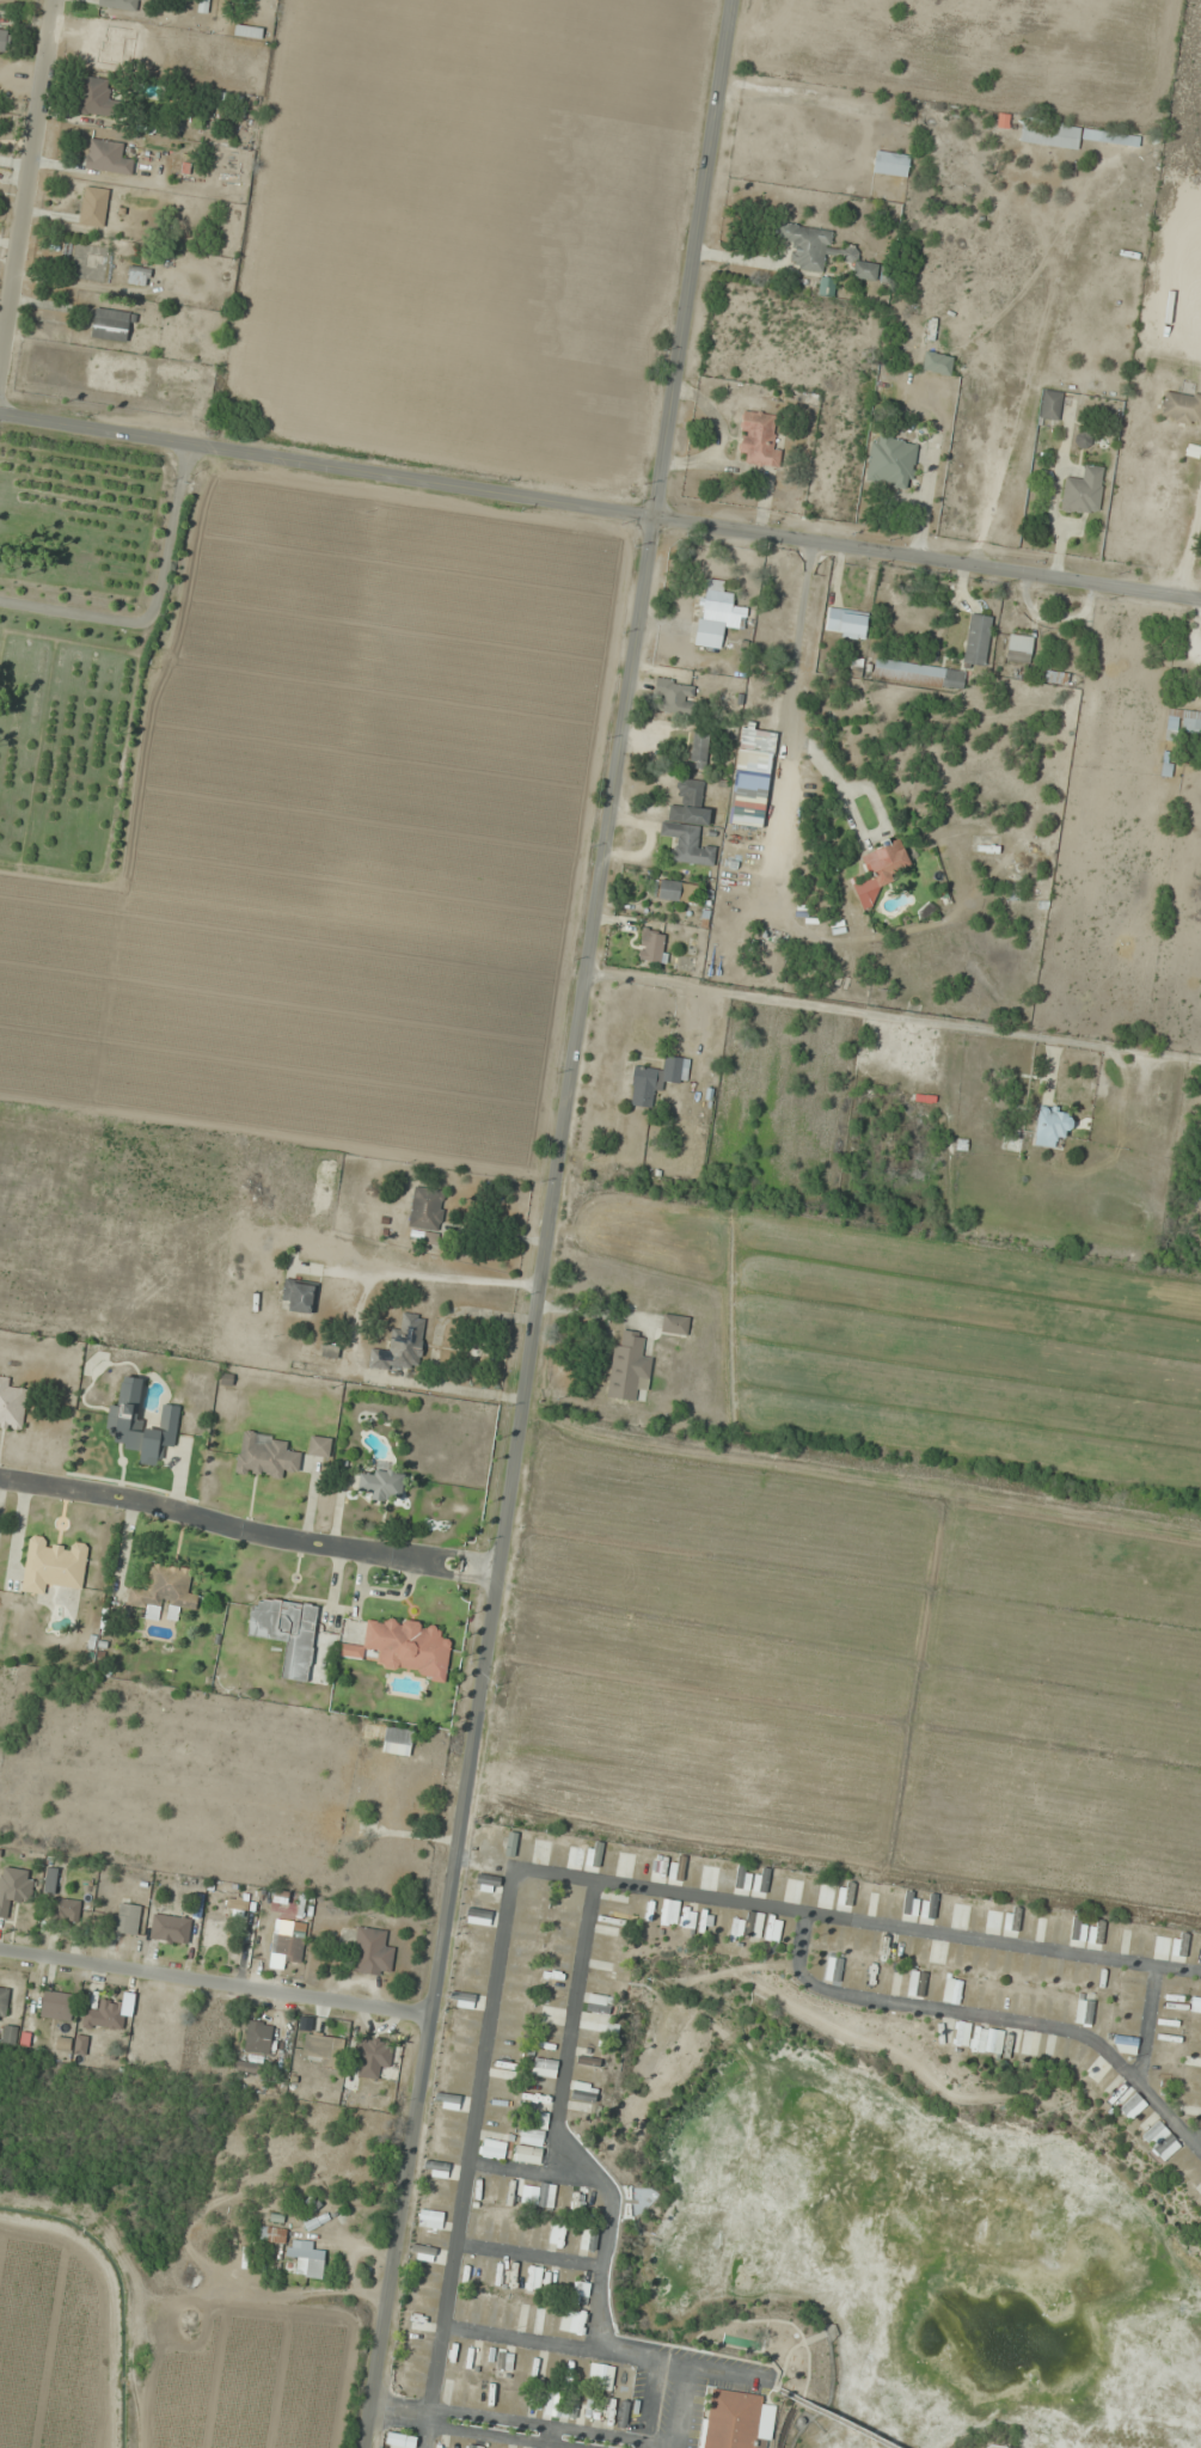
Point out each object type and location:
building: (120, 4)
building: (4, 37)
building: (96, 98)
building: (1072, 136)
building: (108, 157)
building: (890, 164)
road: (26, 184)
building: (93, 206)
building: (807, 247)
building: (860, 265)
building: (137, 276)
building: (110, 325)
building: (937, 363)
building: (1049, 405)
building: (1181, 408)
building: (759, 440)
building: (890, 461)
building: (1083, 491)
road: (600, 510)
building: (717, 617)
building: (846, 623)
building: (976, 639)
building: (1018, 649)
building: (918, 674)
building: (1055, 678)
building: (674, 696)
building: (1190, 723)
building: (698, 751)
building: (750, 777)
building: (688, 825)
building: (886, 862)
building: (675, 891)
building: (651, 945)
road: (893, 1022)
building: (655, 1079)
building: (1049, 1124)
building: (427, 1212)
road: (547, 1223)
building: (299, 1296)
building: (674, 1323)
building: (402, 1346)
building: (627, 1366)
building: (11, 1404)
building: (140, 1424)
building: (319, 1445)
building: (264, 1455)
building: (380, 1483)
road: (246, 1530)
building: (54, 1563)
building: (165, 1589)
building: (287, 1632)
building: (408, 1646)
building: (397, 1740)
building: (510, 1843)
building: (576, 1853)
building: (595, 1854)
building: (742, 1878)
building: (761, 1880)
building: (488, 1881)
building: (797, 1886)
building: (14, 1887)
building: (878, 1898)
building: (478, 1901)
building: (907, 1903)
building: (67, 1909)
building: (669, 1911)
building: (961, 1915)
building: (482, 1917)
building: (125, 1918)
building: (753, 1924)
road: (854, 1924)
building: (1076, 1928)
building: (736, 1929)
building: (773, 1929)
building: (1097, 1933)
building: (287, 1947)
building: (372, 1952)
building: (937, 1954)
building: (833, 1969)
road: (215, 1982)
building: (952, 1990)
building: (4, 2001)
building: (56, 2005)
building: (1195, 2005)
building: (106, 2015)
road: (994, 2020)
building: (962, 2033)
road: (1147, 2033)
building: (258, 2037)
building: (994, 2040)
building: (80, 2043)
building: (1125, 2044)
building: (332, 2051)
building: (372, 2057)
building: (249, 2068)
building: (544, 2068)
building: (447, 2099)
building: (1132, 2106)
building: (541, 2119)
road: (560, 2124)
building: (533, 2137)
building: (1160, 2140)
building: (492, 2148)
road: (468, 2149)
building: (528, 2155)
building: (436, 2168)
road: (534, 2173)
building: (272, 2234)
building: (559, 2235)
building: (588, 2241)
building: (423, 2251)
road: (531, 2254)
building: (534, 2278)
building: (581, 2293)
road: (611, 2309)
building: (522, 2318)
building: (541, 2320)
road: (562, 2346)
road: (710, 2383)
road: (418, 2405)
road: (679, 2407)
road: (834, 2417)
building: (736, 2419)
road: (550, 2434)
road: (423, 2437)
building: (399, 2440)
road: (768, 2443)
building: (470, 2447)

